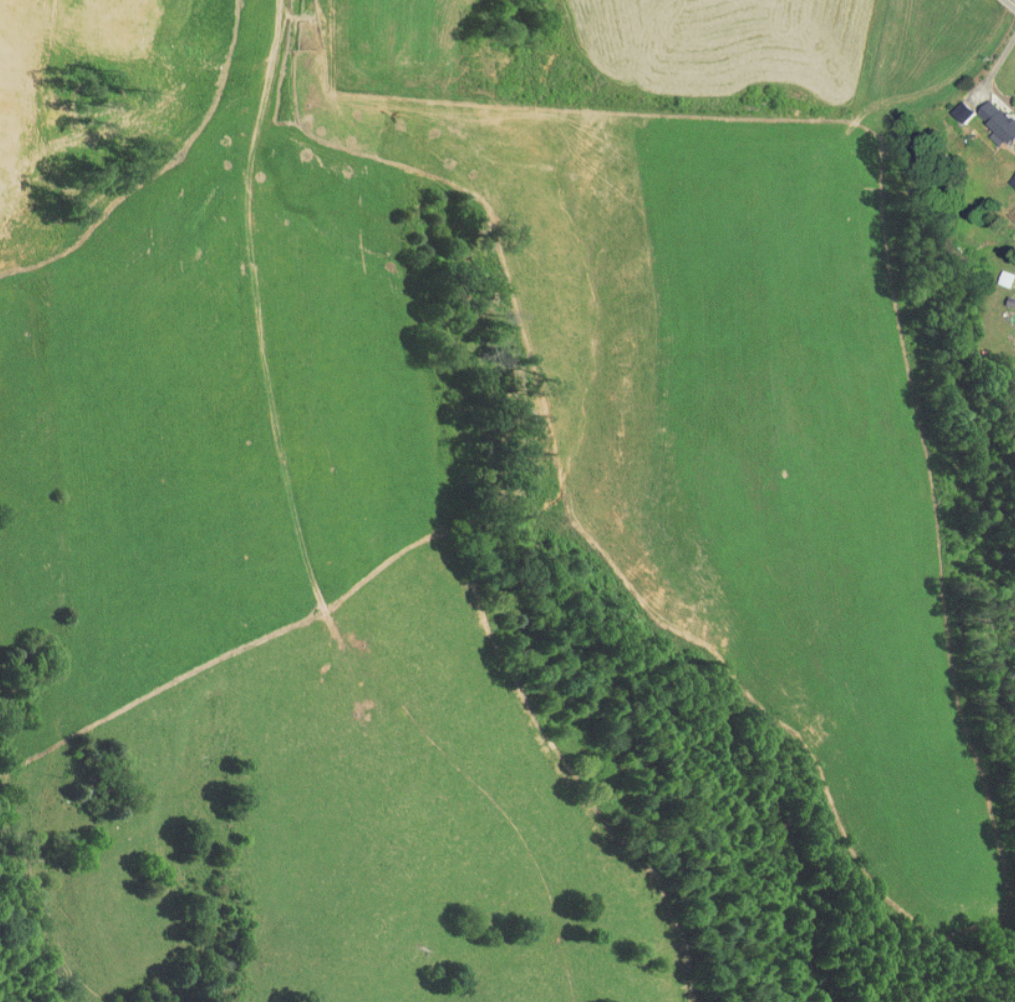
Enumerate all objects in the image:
road: (1013, 1)
building: (955, 105)
building: (995, 120)
building: (1009, 173)
building: (1007, 297)

